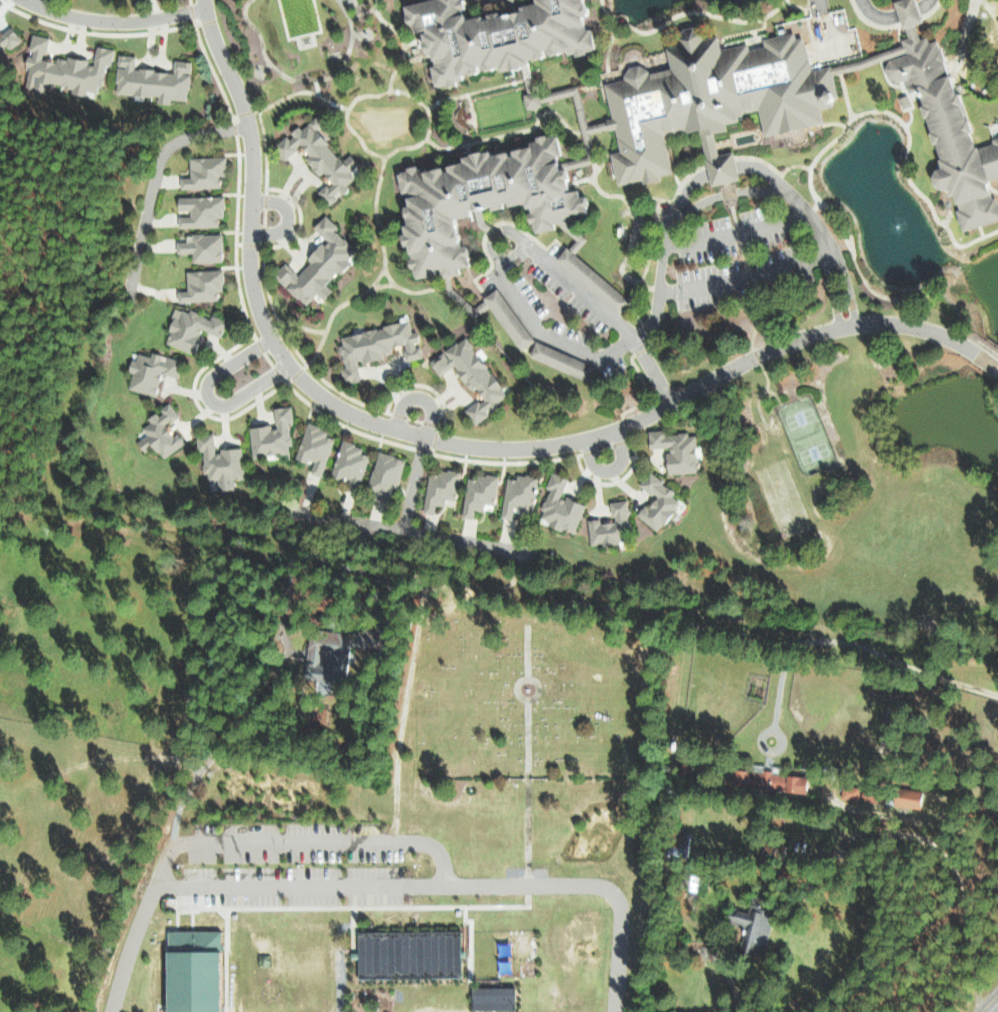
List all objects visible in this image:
road: (32, 1)
road: (35, 1)
road: (118, 20)
building: (492, 35)
building: (7, 38)
building: (62, 68)
building: (150, 79)
building: (709, 99)
building: (943, 125)
building: (317, 159)
road: (723, 170)
building: (201, 172)
road: (767, 177)
road: (688, 191)
building: (476, 200)
building: (198, 210)
road: (287, 218)
building: (452, 230)
building: (200, 247)
building: (315, 264)
building: (587, 274)
road: (745, 278)
building: (199, 285)
road: (847, 287)
road: (832, 291)
building: (503, 317)
building: (188, 328)
building: (373, 346)
road: (584, 352)
building: (556, 360)
building: (148, 371)
building: (467, 376)
road: (205, 398)
road: (418, 399)
building: (158, 431)
building: (270, 434)
road: (459, 444)
building: (313, 447)
building: (673, 450)
building: (218, 462)
building: (347, 464)
road: (610, 470)
building: (382, 476)
building: (437, 489)
building: (476, 493)
building: (516, 494)
building: (655, 502)
building: (558, 506)
building: (607, 525)
road: (848, 645)
building: (330, 653)
building: (765, 780)
building: (847, 793)
building: (904, 798)
road: (933, 824)
building: (676, 844)
road: (298, 845)
road: (380, 888)
building: (749, 927)
building: (406, 954)
building: (188, 972)
road: (728, 980)
building: (490, 998)
road: (987, 1000)
road: (979, 1011)

